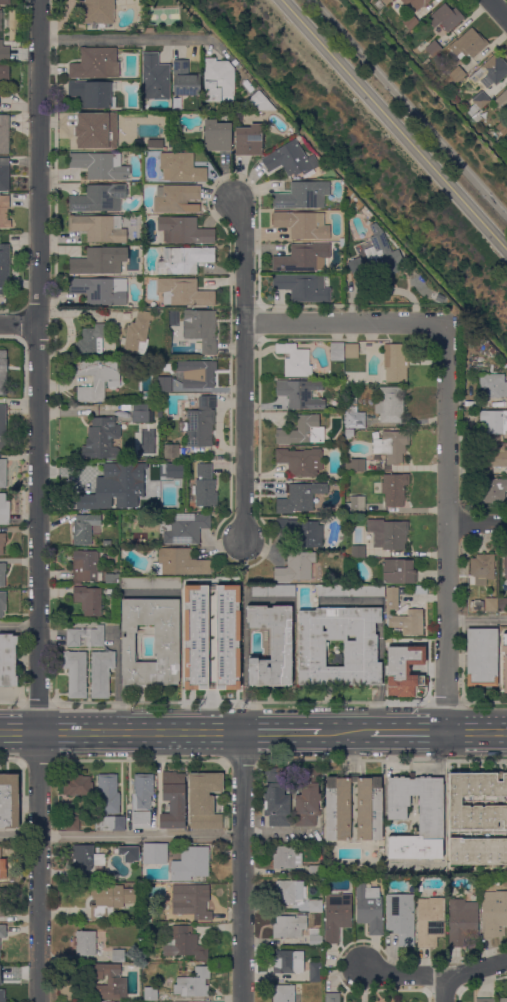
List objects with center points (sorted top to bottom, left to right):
building: (386, 1)
building: (5, 2)
building: (416, 3)
road: (500, 7)
building: (97, 11)
building: (445, 18)
building: (0, 20)
building: (410, 21)
building: (149, 30)
road: (129, 38)
building: (468, 44)
building: (433, 48)
building: (4, 52)
building: (95, 64)
building: (490, 71)
building: (4, 73)
building: (155, 77)
building: (454, 77)
building: (218, 80)
building: (185, 81)
building: (92, 95)
building: (502, 100)
building: (260, 102)
building: (478, 103)
building: (205, 107)
road: (409, 108)
building: (237, 116)
building: (502, 127)
building: (92, 130)
building: (131, 130)
building: (4, 134)
building: (217, 136)
building: (249, 140)
building: (290, 159)
building: (100, 165)
building: (181, 168)
building: (4, 174)
building: (302, 196)
building: (99, 198)
building: (175, 198)
building: (4, 212)
building: (365, 213)
building: (302, 224)
building: (99, 228)
building: (184, 231)
building: (303, 258)
building: (375, 259)
building: (184, 260)
building: (99, 261)
building: (4, 267)
building: (302, 287)
building: (100, 290)
building: (184, 293)
road: (344, 321)
road: (19, 324)
building: (201, 328)
building: (138, 333)
building: (90, 341)
building: (486, 344)
building: (491, 350)
building: (336, 351)
building: (351, 351)
building: (295, 360)
building: (396, 362)
building: (3, 365)
road: (244, 367)
building: (196, 373)
building: (352, 377)
building: (96, 379)
building: (164, 384)
building: (492, 385)
building: (300, 394)
building: (389, 404)
building: (141, 414)
building: (353, 414)
building: (494, 421)
building: (201, 422)
building: (2, 427)
building: (300, 430)
building: (349, 433)
building: (102, 439)
building: (392, 445)
building: (171, 451)
building: (493, 456)
building: (300, 461)
building: (355, 465)
building: (173, 470)
building: (3, 473)
building: (204, 486)
building: (115, 487)
building: (393, 490)
building: (494, 490)
building: (300, 497)
road: (38, 500)
building: (354, 506)
building: (4, 510)
road: (477, 523)
road: (446, 527)
building: (84, 528)
building: (184, 528)
building: (302, 532)
building: (388, 534)
building: (2, 542)
building: (107, 543)
building: (357, 551)
building: (179, 563)
building: (85, 566)
building: (295, 567)
building: (505, 567)
building: (482, 568)
building: (398, 572)
building: (2, 574)
building: (112, 578)
building: (150, 583)
building: (273, 591)
building: (351, 591)
building: (88, 600)
building: (391, 600)
building: (2, 603)
building: (491, 604)
building: (502, 604)
building: (476, 605)
road: (476, 619)
building: (409, 622)
road: (19, 626)
building: (85, 633)
building: (194, 636)
building: (226, 636)
building: (166, 645)
building: (272, 645)
building: (360, 654)
building: (482, 658)
building: (7, 660)
building: (504, 661)
road: (212, 665)
building: (403, 669)
building: (75, 673)
building: (101, 673)
road: (117, 680)
road: (461, 683)
road: (238, 701)
road: (443, 701)
road: (11, 702)
road: (36, 702)
road: (19, 731)
road: (100, 731)
road: (202, 732)
road: (284, 732)
road: (344, 732)
road: (403, 732)
road: (476, 732)
road: (11, 760)
road: (150, 760)
road: (374, 760)
building: (77, 785)
building: (108, 794)
building: (276, 798)
building: (308, 798)
building: (173, 800)
building: (204, 800)
building: (477, 800)
building: (9, 801)
building: (142, 801)
building: (431, 813)
building: (369, 814)
building: (89, 820)
building: (72, 824)
building: (110, 824)
road: (121, 836)
building: (477, 851)
building: (130, 852)
building: (155, 854)
building: (286, 858)
building: (86, 859)
building: (190, 864)
road: (242, 867)
building: (3, 868)
building: (315, 871)
building: (289, 891)
building: (110, 900)
building: (190, 901)
building: (1, 902)
building: (315, 906)
building: (370, 908)
building: (494, 913)
building: (337, 916)
building: (401, 918)
building: (430, 921)
building: (462, 922)
building: (289, 926)
building: (3, 931)
building: (315, 937)
building: (184, 943)
building: (85, 944)
building: (133, 953)
building: (118, 955)
building: (288, 962)
building: (315, 972)
road: (435, 975)
building: (108, 980)
building: (193, 983)
road: (444, 989)
building: (284, 993)
building: (151, 994)
building: (332, 997)
building: (2, 999)
building: (485, 1000)
building: (502, 1000)
building: (409, 1001)

